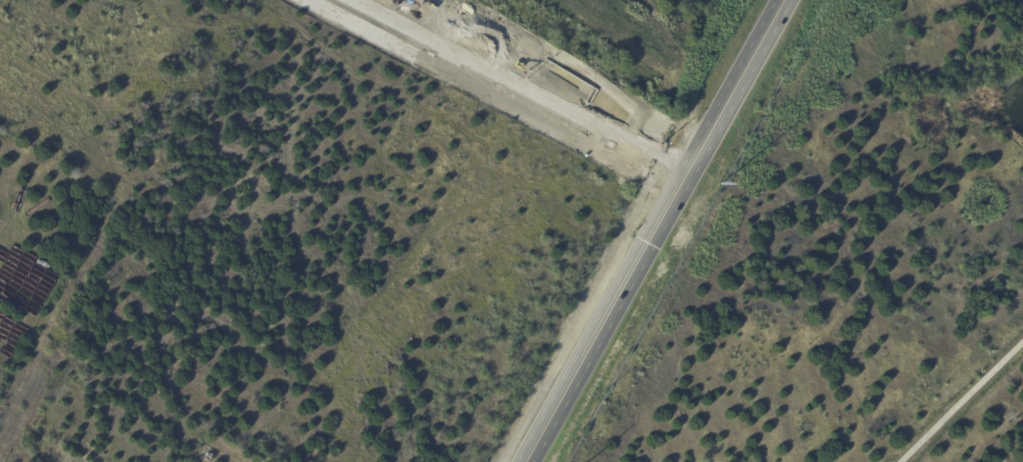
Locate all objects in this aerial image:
park: (629, 37)
road: (581, 70)
road: (651, 231)
road: (960, 400)
building: (207, 457)

